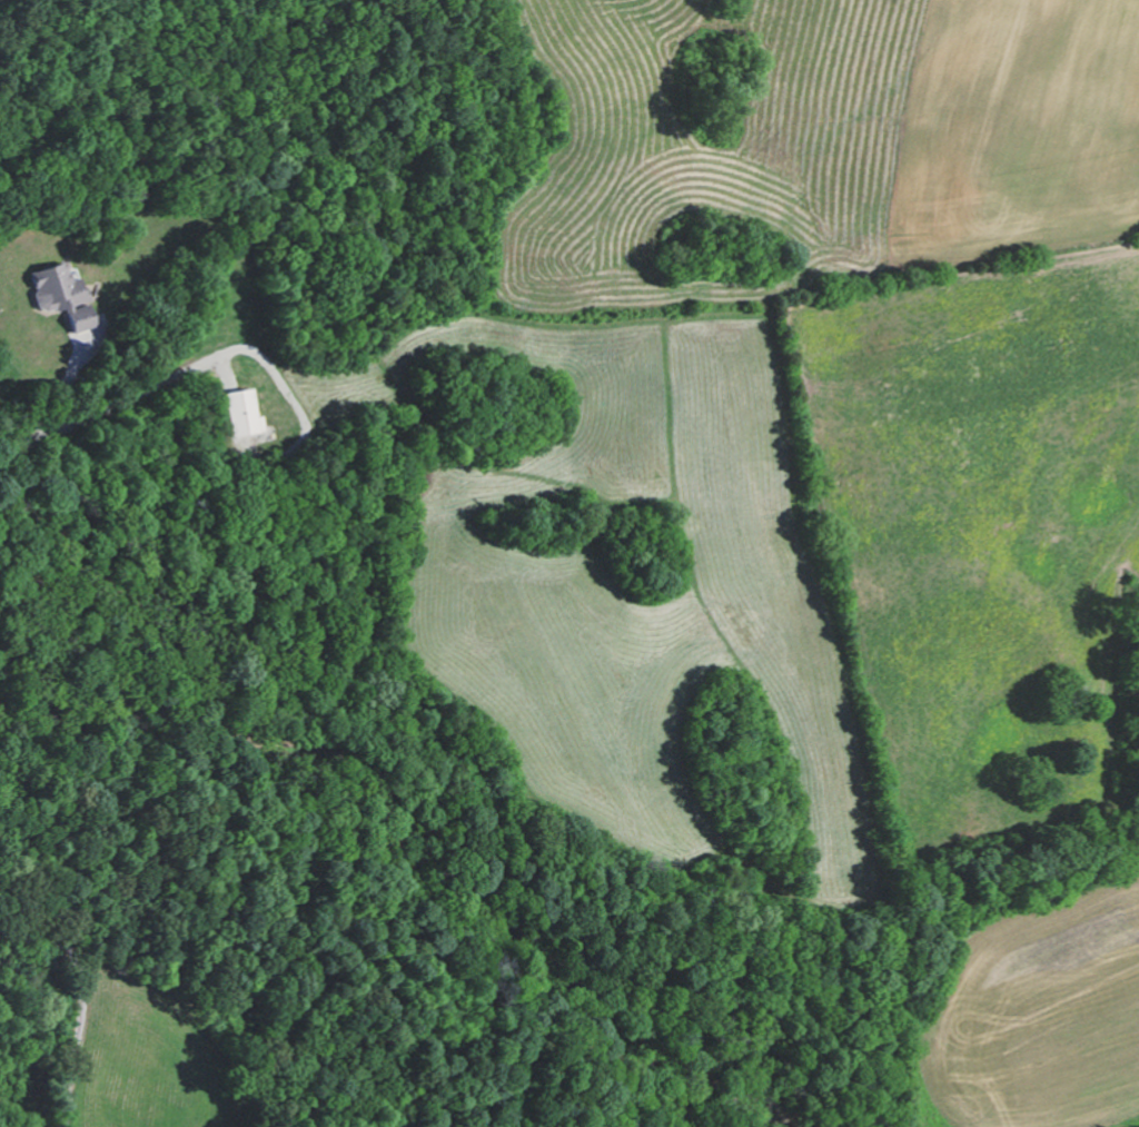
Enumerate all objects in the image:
building: (60, 294)
building: (241, 413)
road: (91, 990)

